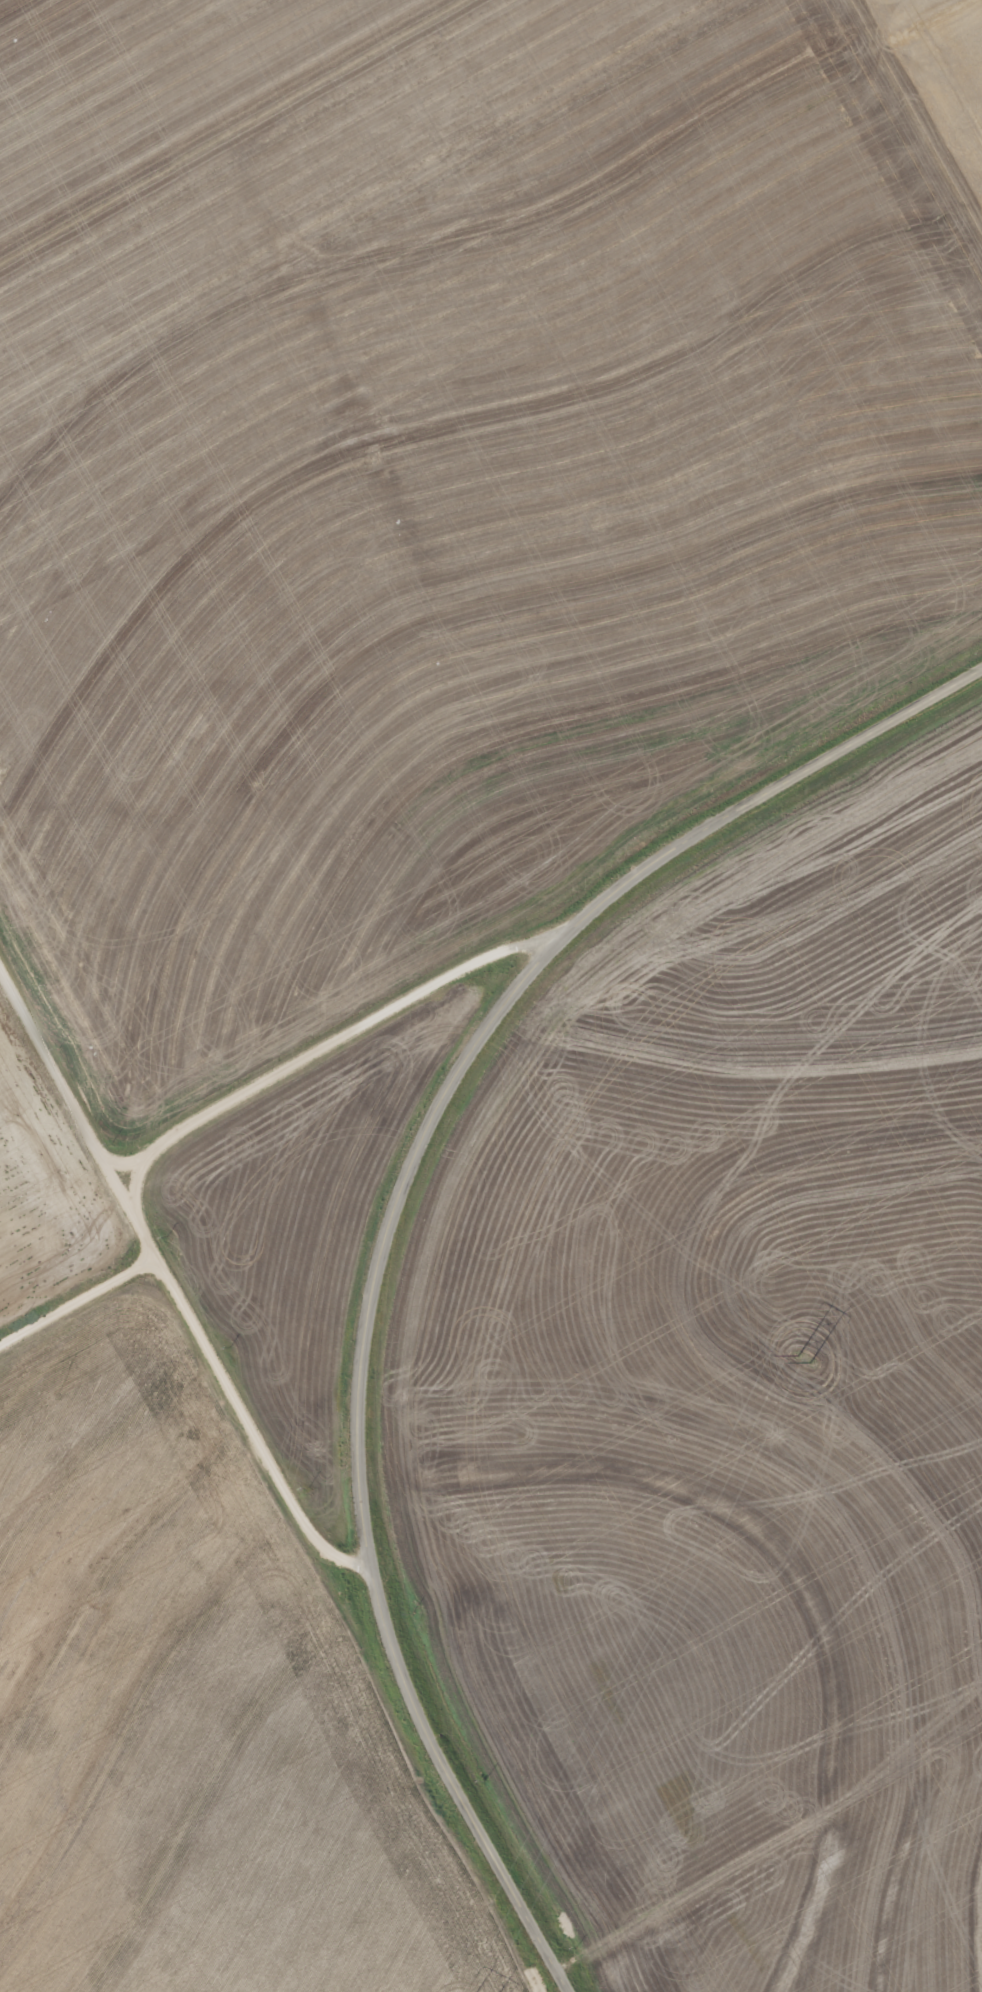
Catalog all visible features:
road: (345, 1036)
road: (122, 1162)
road: (136, 1187)
road: (394, 1215)
road: (173, 1291)
road: (77, 1304)
power tower: (806, 1356)

